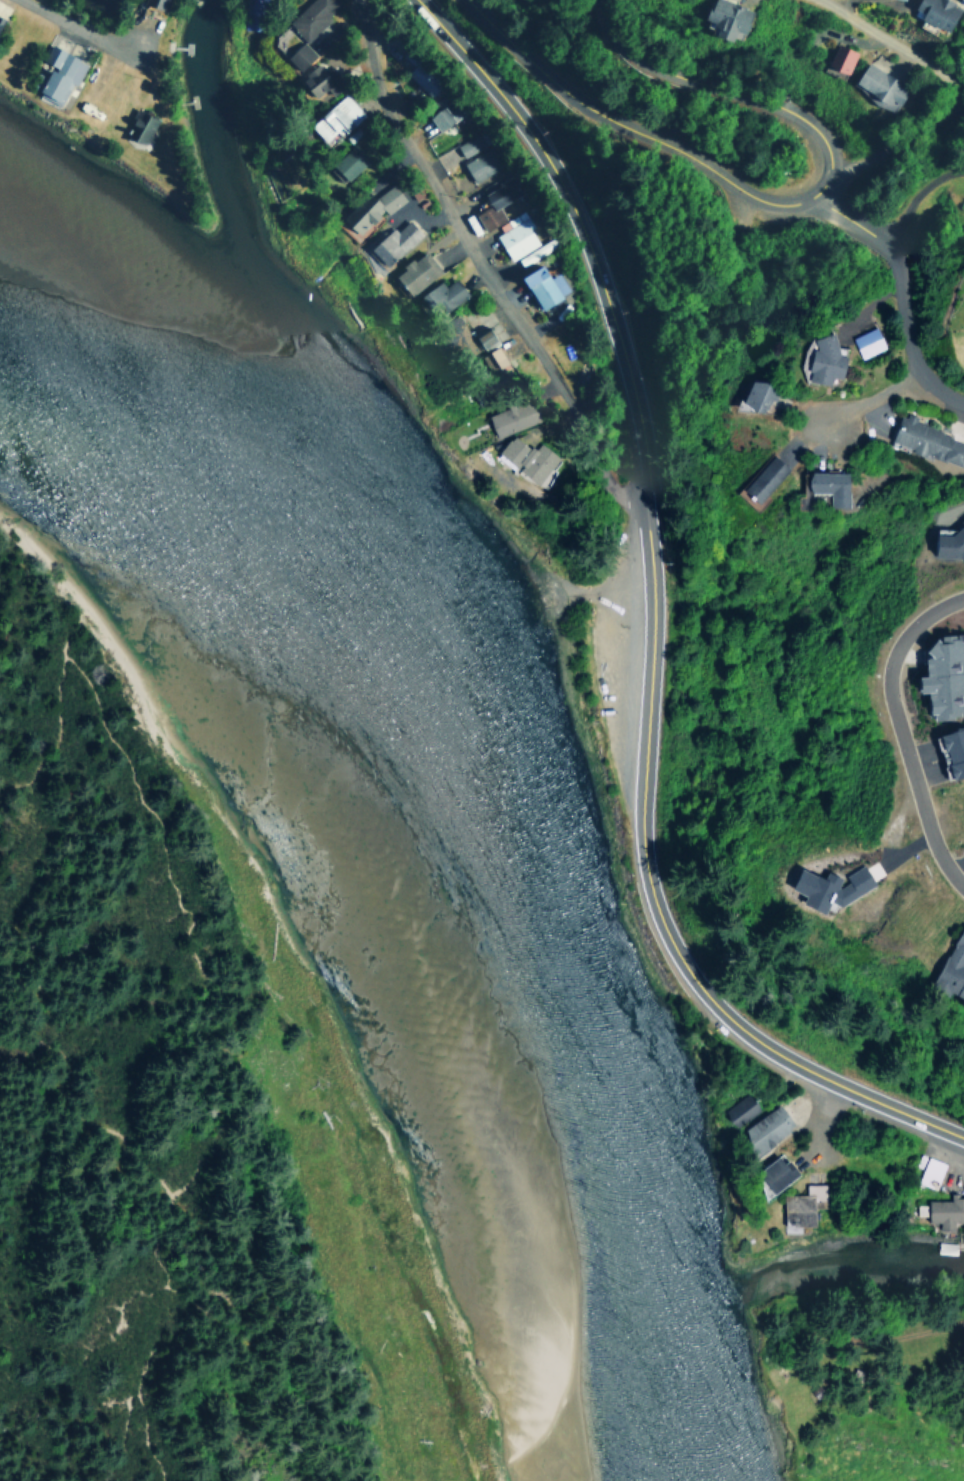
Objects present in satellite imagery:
building: (154, 3)
building: (936, 12)
building: (310, 15)
building: (0, 18)
building: (725, 18)
road: (67, 27)
road: (895, 47)
building: (299, 54)
building: (839, 58)
building: (55, 75)
building: (878, 87)
road: (733, 93)
building: (334, 116)
building: (438, 116)
road: (621, 126)
building: (138, 127)
building: (475, 155)
building: (347, 162)
road: (917, 190)
building: (494, 200)
building: (371, 207)
road: (839, 216)
building: (514, 234)
building: (392, 241)
building: (534, 252)
road: (482, 261)
building: (415, 271)
building: (541, 284)
building: (440, 294)
road: (902, 332)
building: (453, 335)
building: (484, 337)
building: (867, 341)
building: (491, 357)
building: (822, 360)
building: (751, 395)
road: (864, 401)
building: (519, 440)
building: (925, 440)
building: (762, 477)
building: (825, 485)
parking lot: (607, 605)
road: (651, 622)
building: (941, 675)
road: (898, 733)
building: (950, 750)
river: (431, 825)
building: (826, 887)
building: (951, 968)
building: (763, 1128)
building: (928, 1172)
building: (772, 1174)
building: (803, 1205)
building: (944, 1211)

